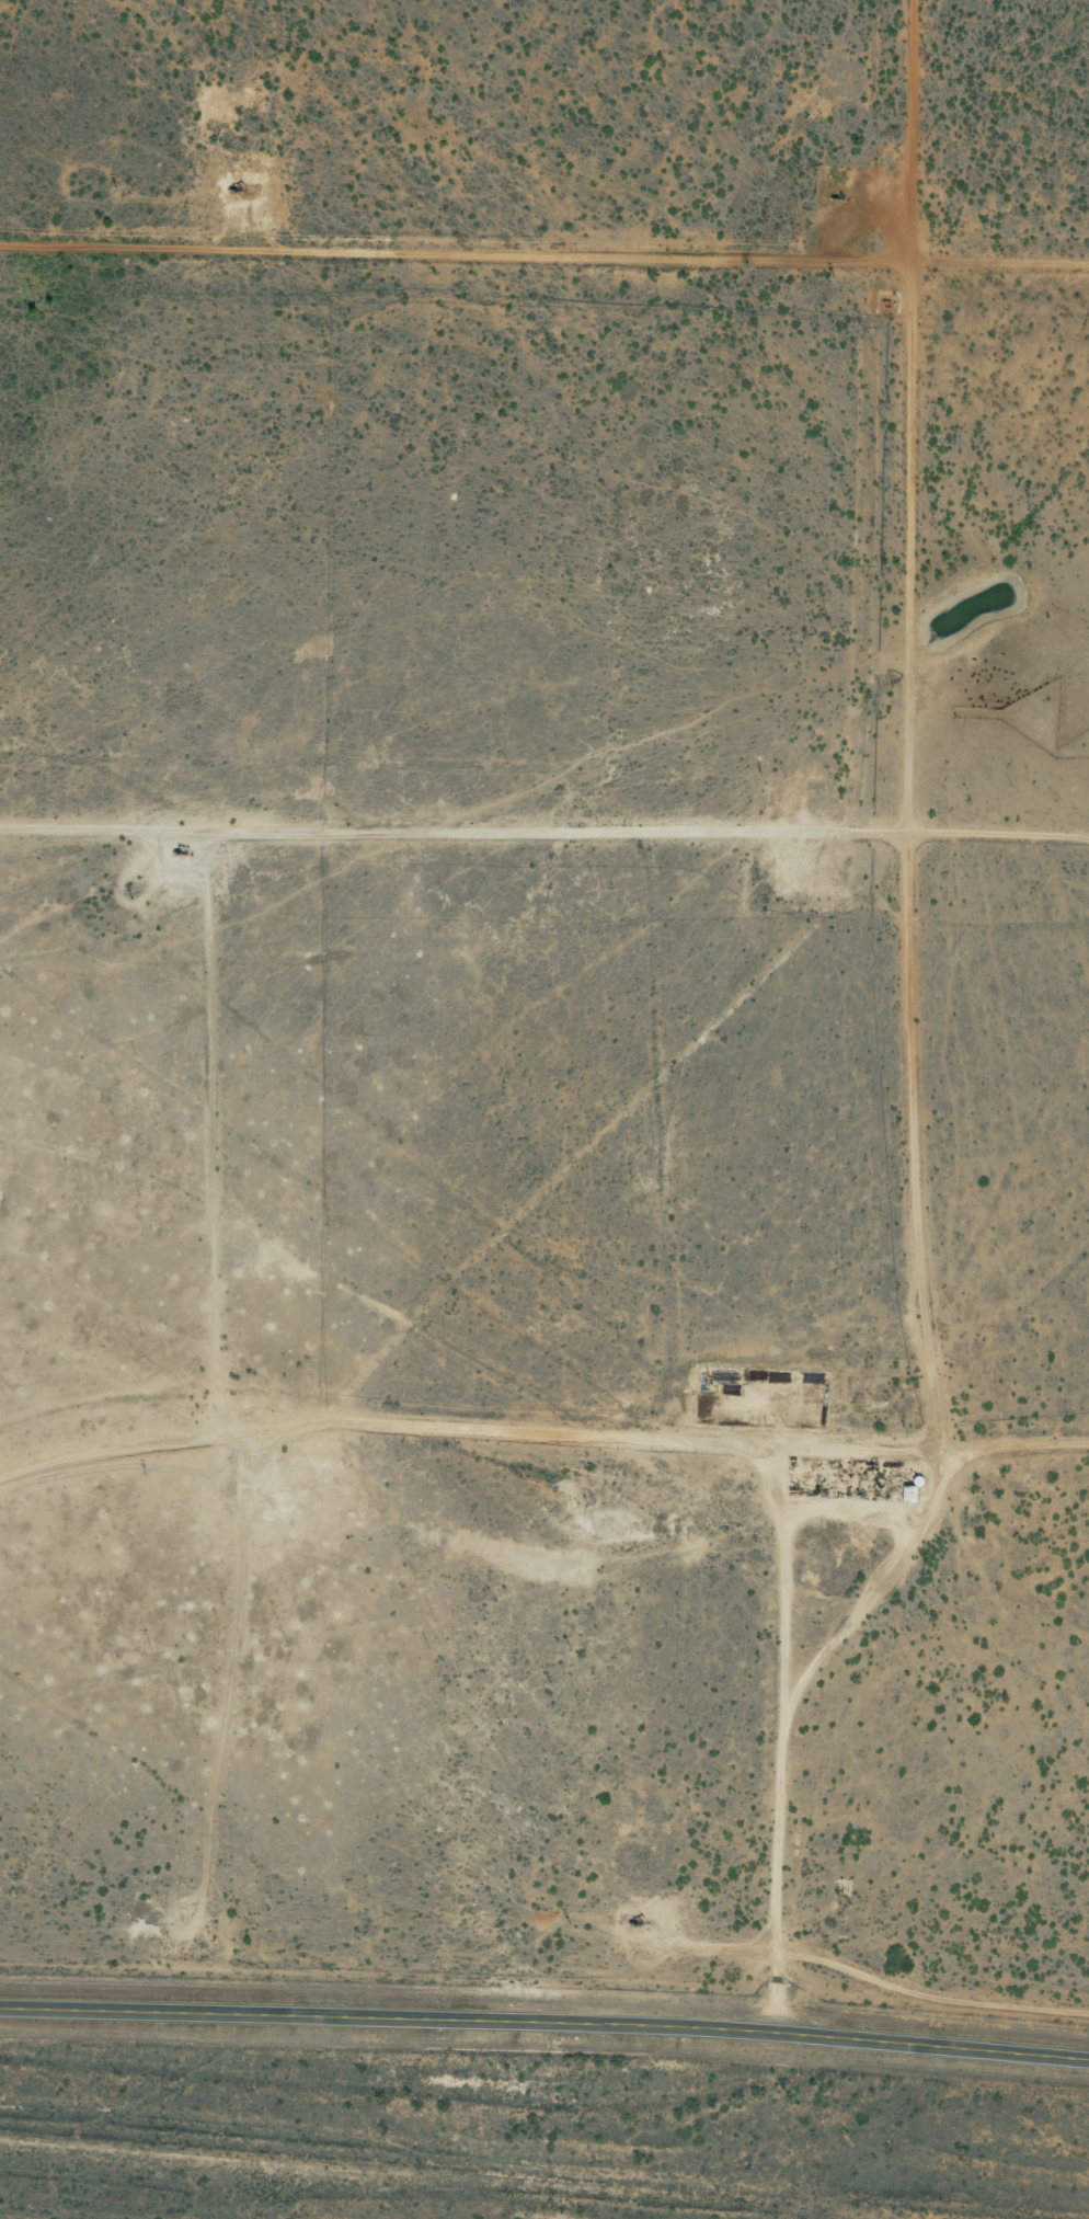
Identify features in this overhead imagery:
road: (544, 2043)

